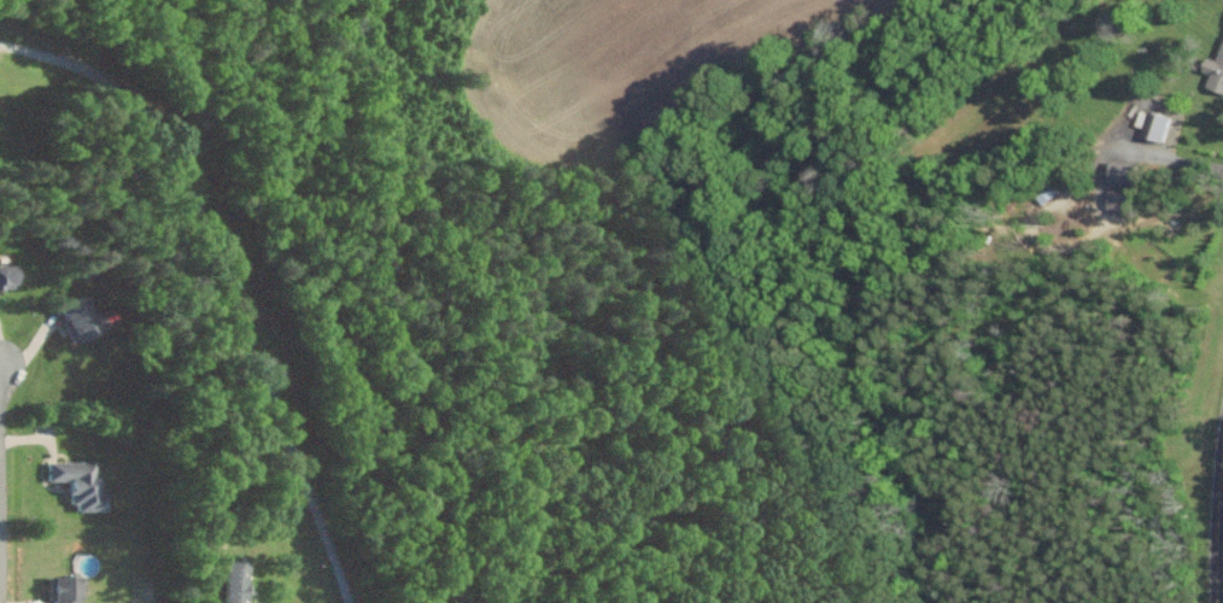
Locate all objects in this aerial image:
building: (1213, 70)
building: (1153, 125)
road: (1146, 152)
building: (1117, 171)
building: (10, 275)
road: (227, 283)
building: (84, 317)
building: (86, 482)
road: (4, 499)
road: (1216, 519)
building: (241, 581)
building: (69, 589)

